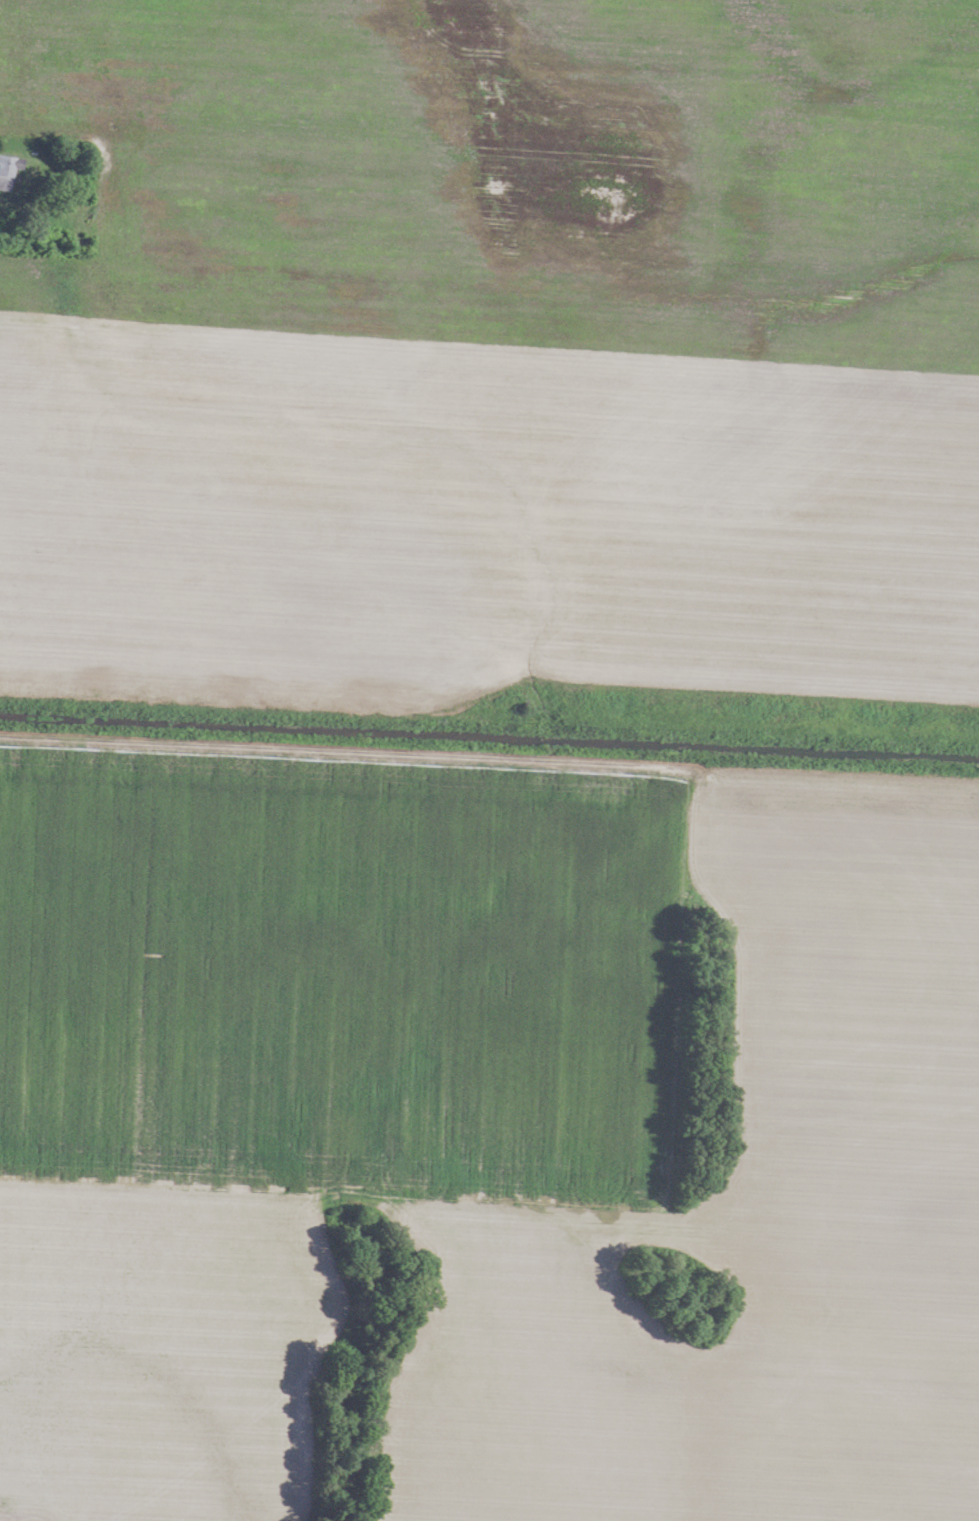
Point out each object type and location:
building: (6, 171)
road: (6, 201)
road: (489, 757)

